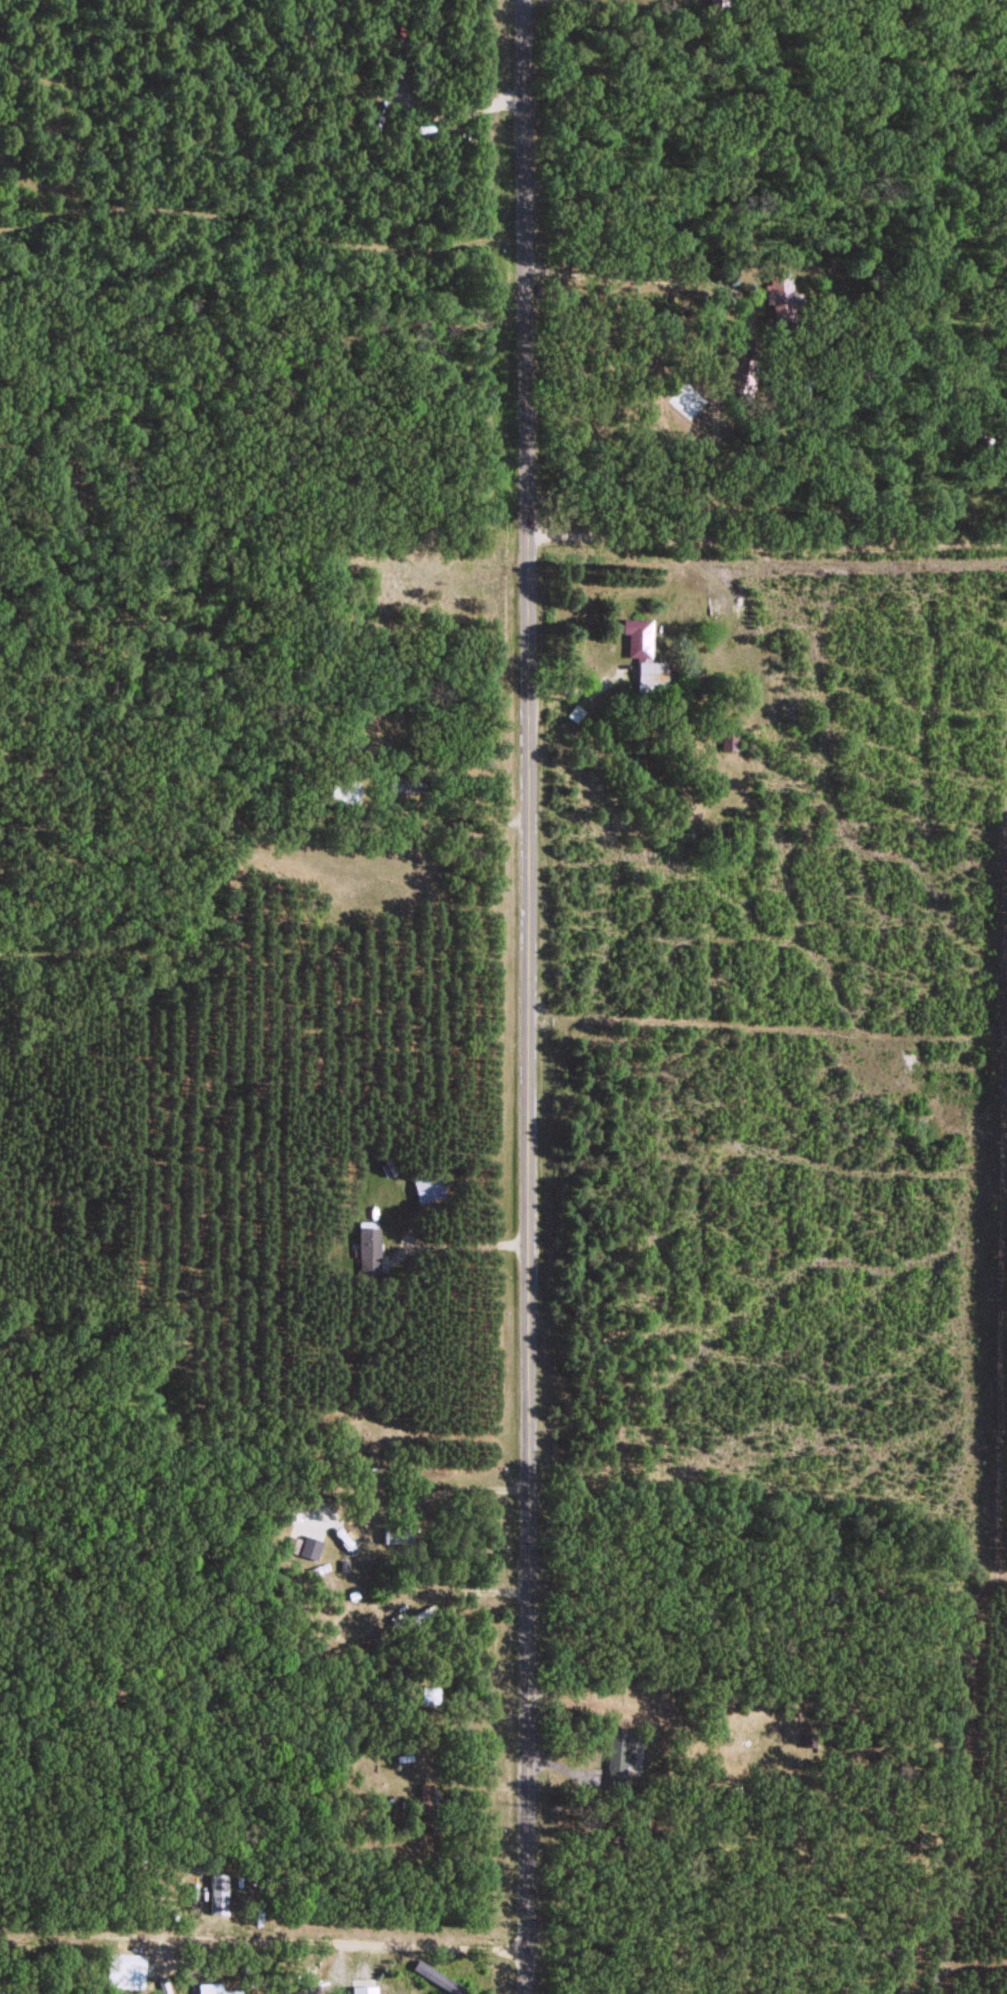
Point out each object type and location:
building: (719, 4)
park: (634, 9)
road: (783, 197)
building: (778, 288)
building: (741, 372)
road: (769, 535)
building: (637, 636)
building: (650, 674)
building: (728, 739)
building: (404, 782)
building: (343, 789)
road: (529, 996)
building: (429, 1186)
building: (368, 1247)
building: (344, 1442)
road: (359, 1462)
building: (343, 1535)
building: (309, 1547)
building: (418, 1615)
building: (429, 1693)
building: (623, 1757)
building: (424, 1796)
road: (260, 1935)
building: (125, 1966)
building: (214, 1988)

